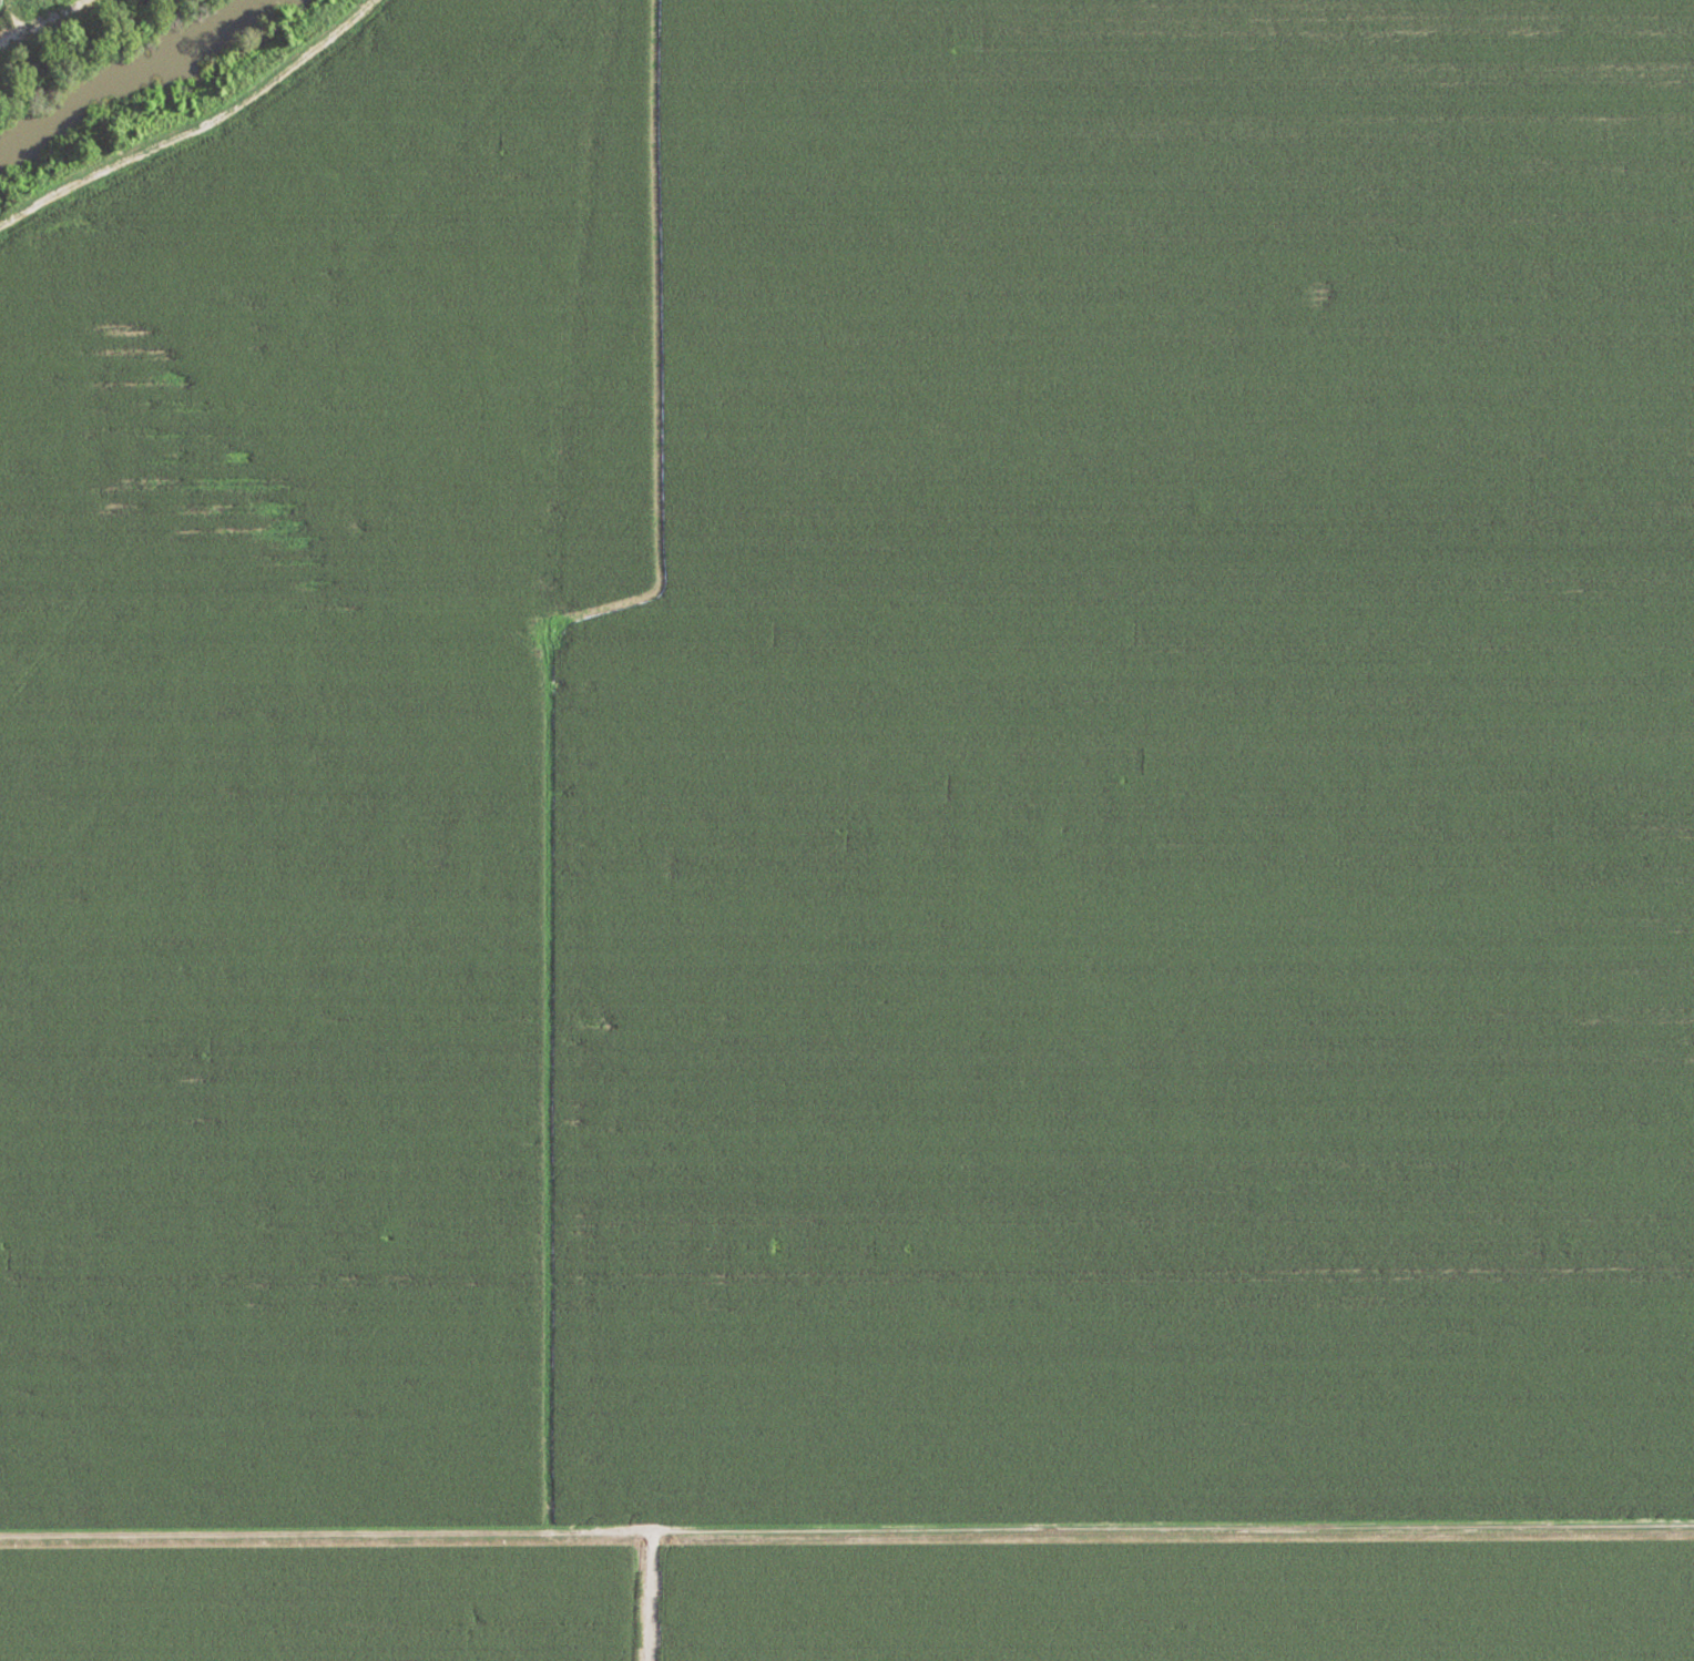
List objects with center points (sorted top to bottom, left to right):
river: (127, 73)
road: (195, 132)
road: (847, 1527)

